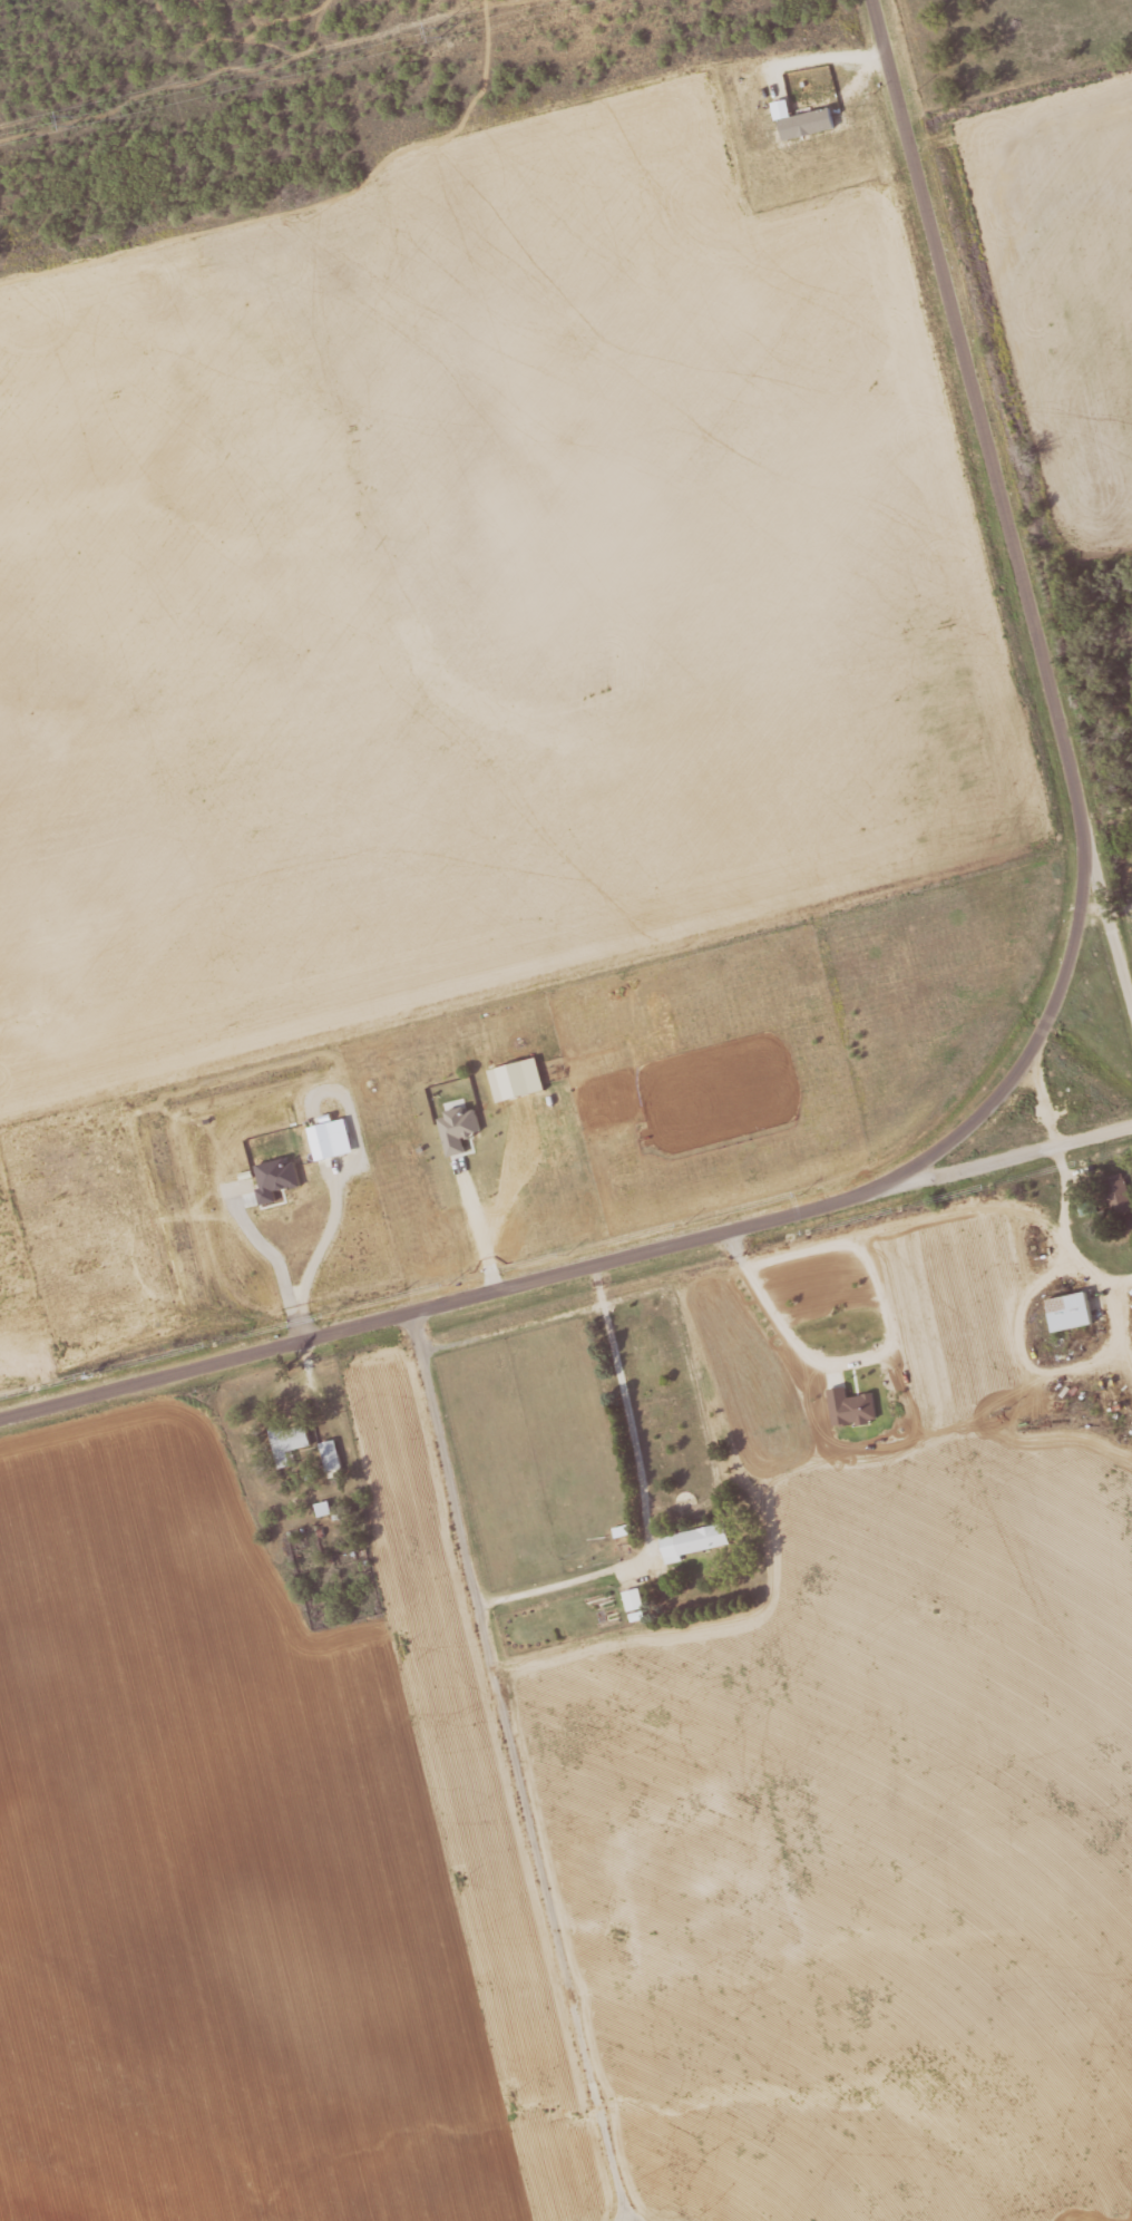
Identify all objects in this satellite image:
power tower: (437, 32)
building: (780, 104)
building: (804, 119)
power tower: (78, 120)
road: (997, 467)
road: (1109, 886)
road: (1002, 1160)
building: (1118, 1196)
road: (599, 1262)
building: (1072, 1311)
road: (511, 1328)
road: (884, 1352)
building: (294, 1443)
building: (335, 1457)
road: (642, 1496)
building: (326, 1507)
building: (696, 1540)
building: (637, 1599)
road: (516, 1766)

